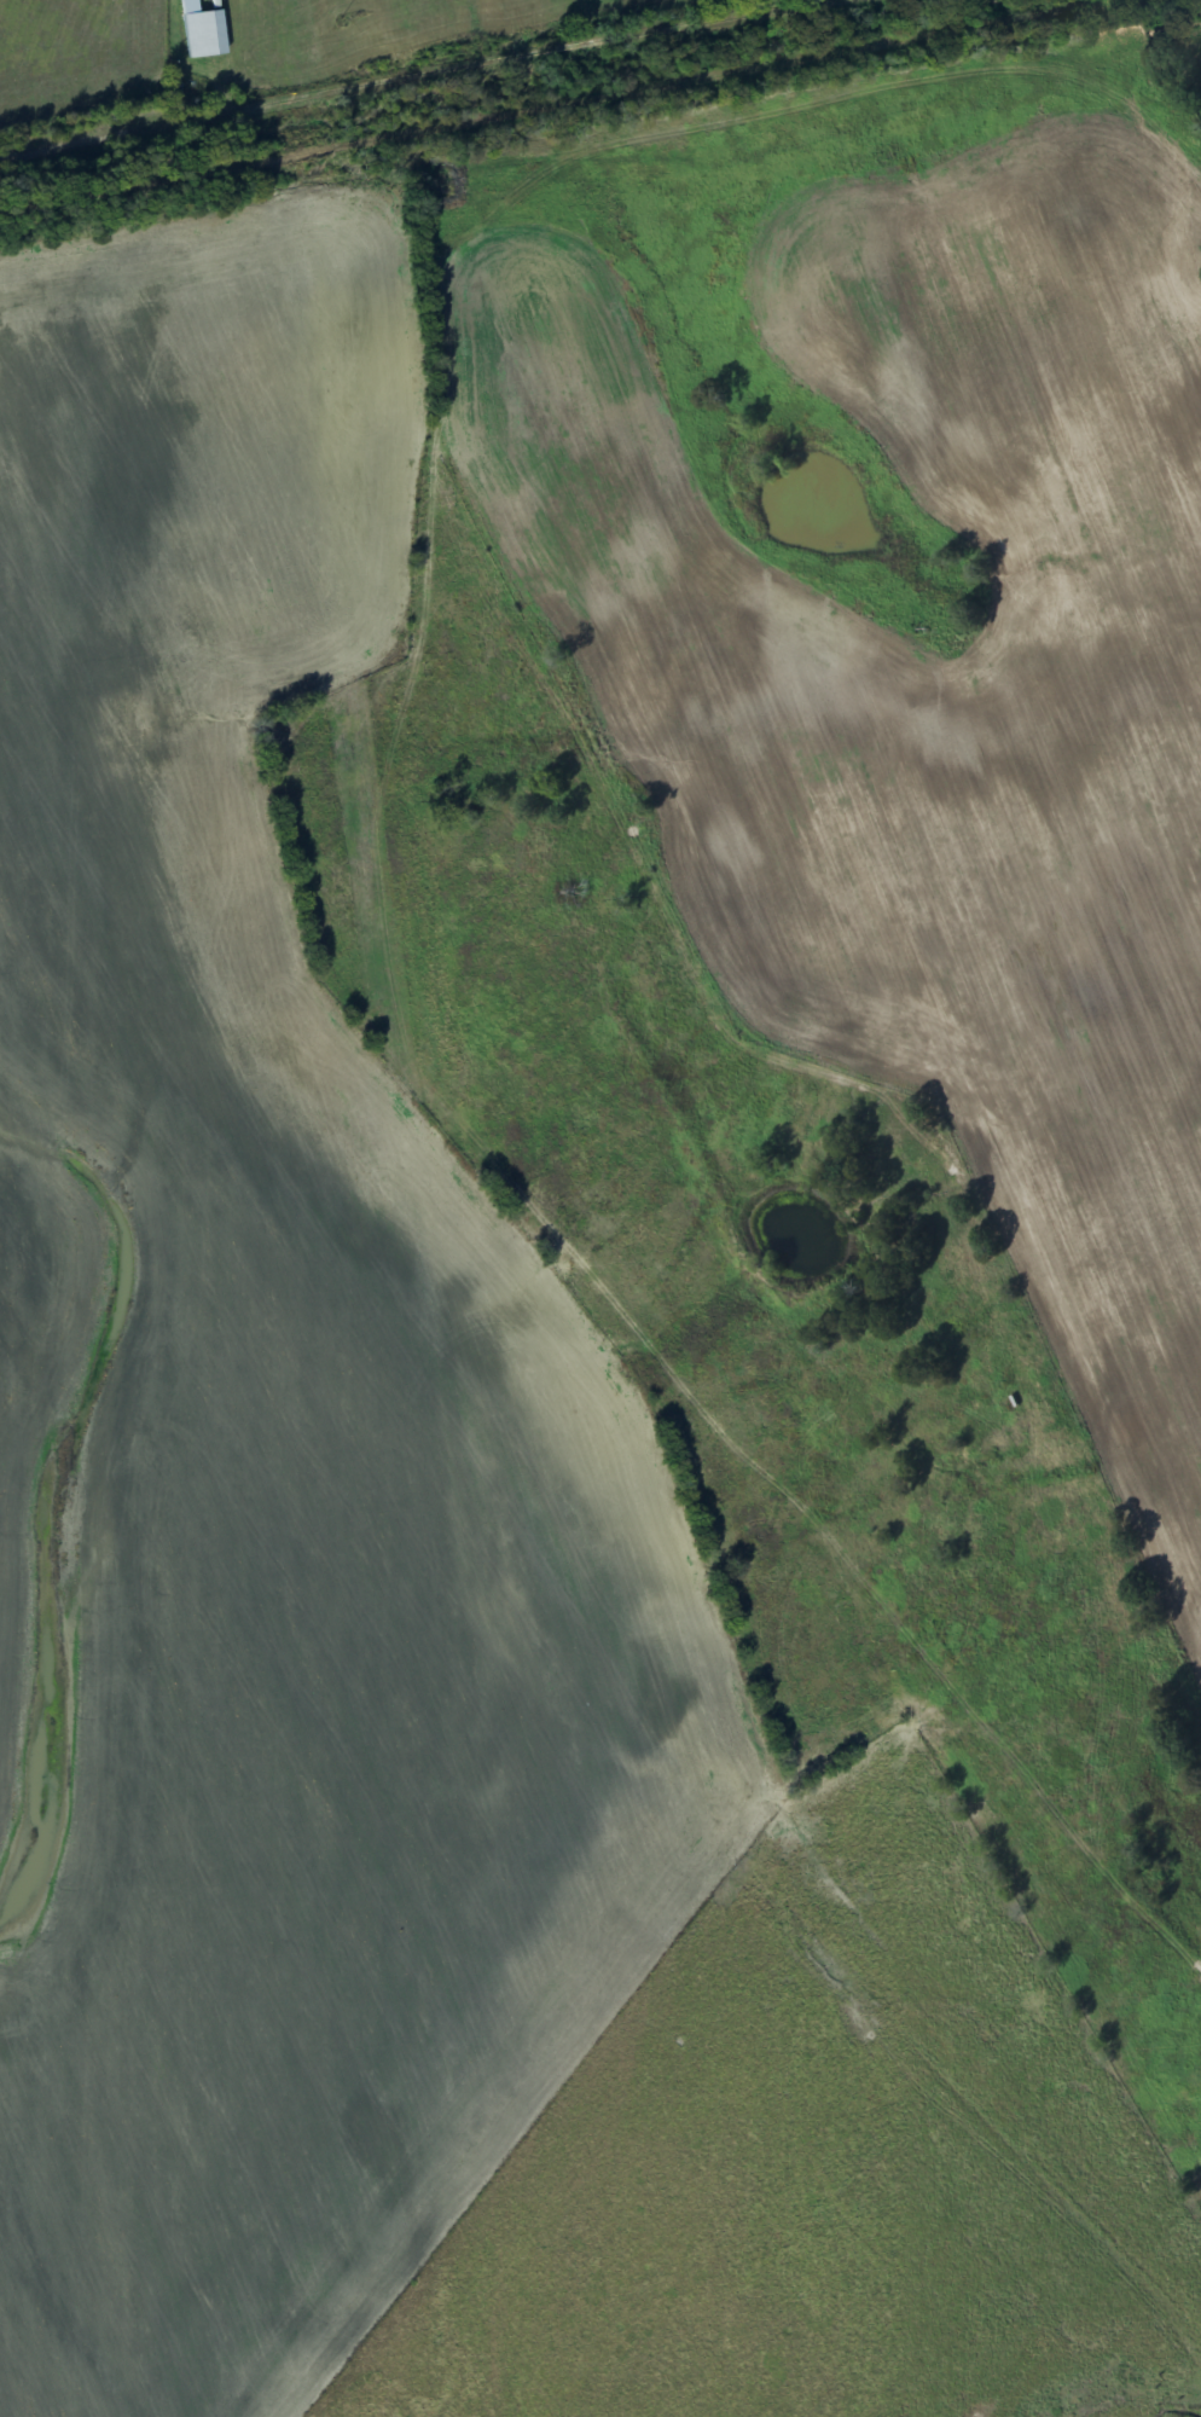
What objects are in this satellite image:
building: (204, 35)
railway: (536, 102)

